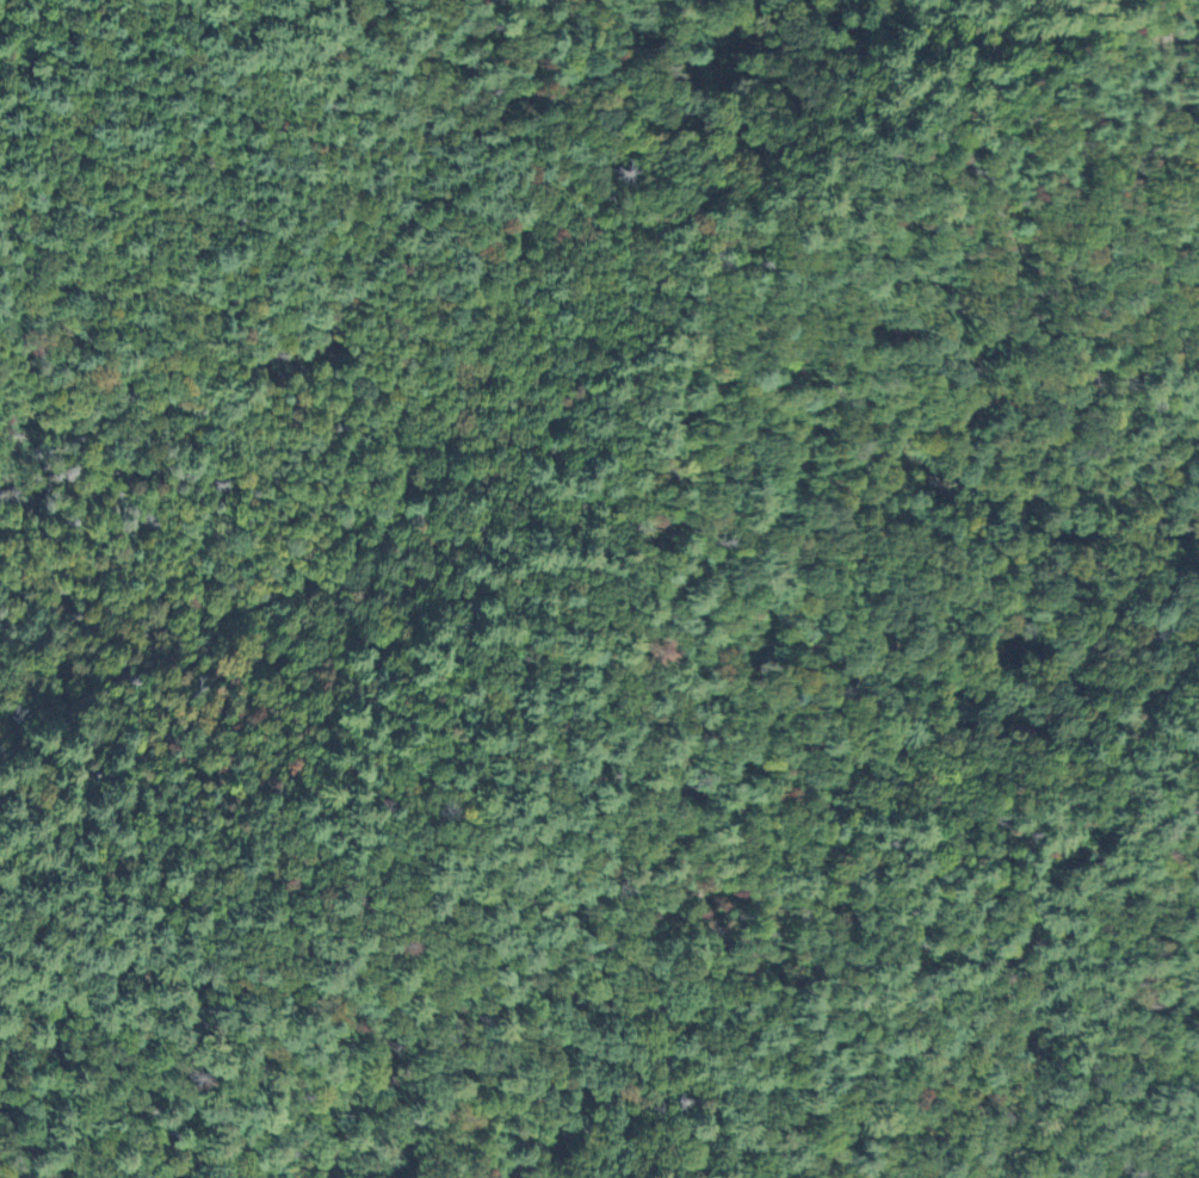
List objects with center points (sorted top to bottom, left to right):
road: (705, 577)

